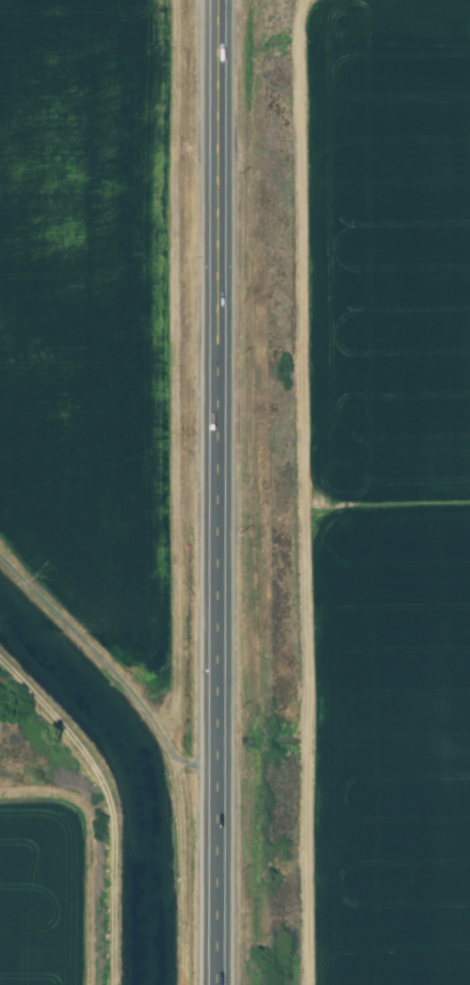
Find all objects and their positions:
road: (215, 492)
river: (137, 769)

